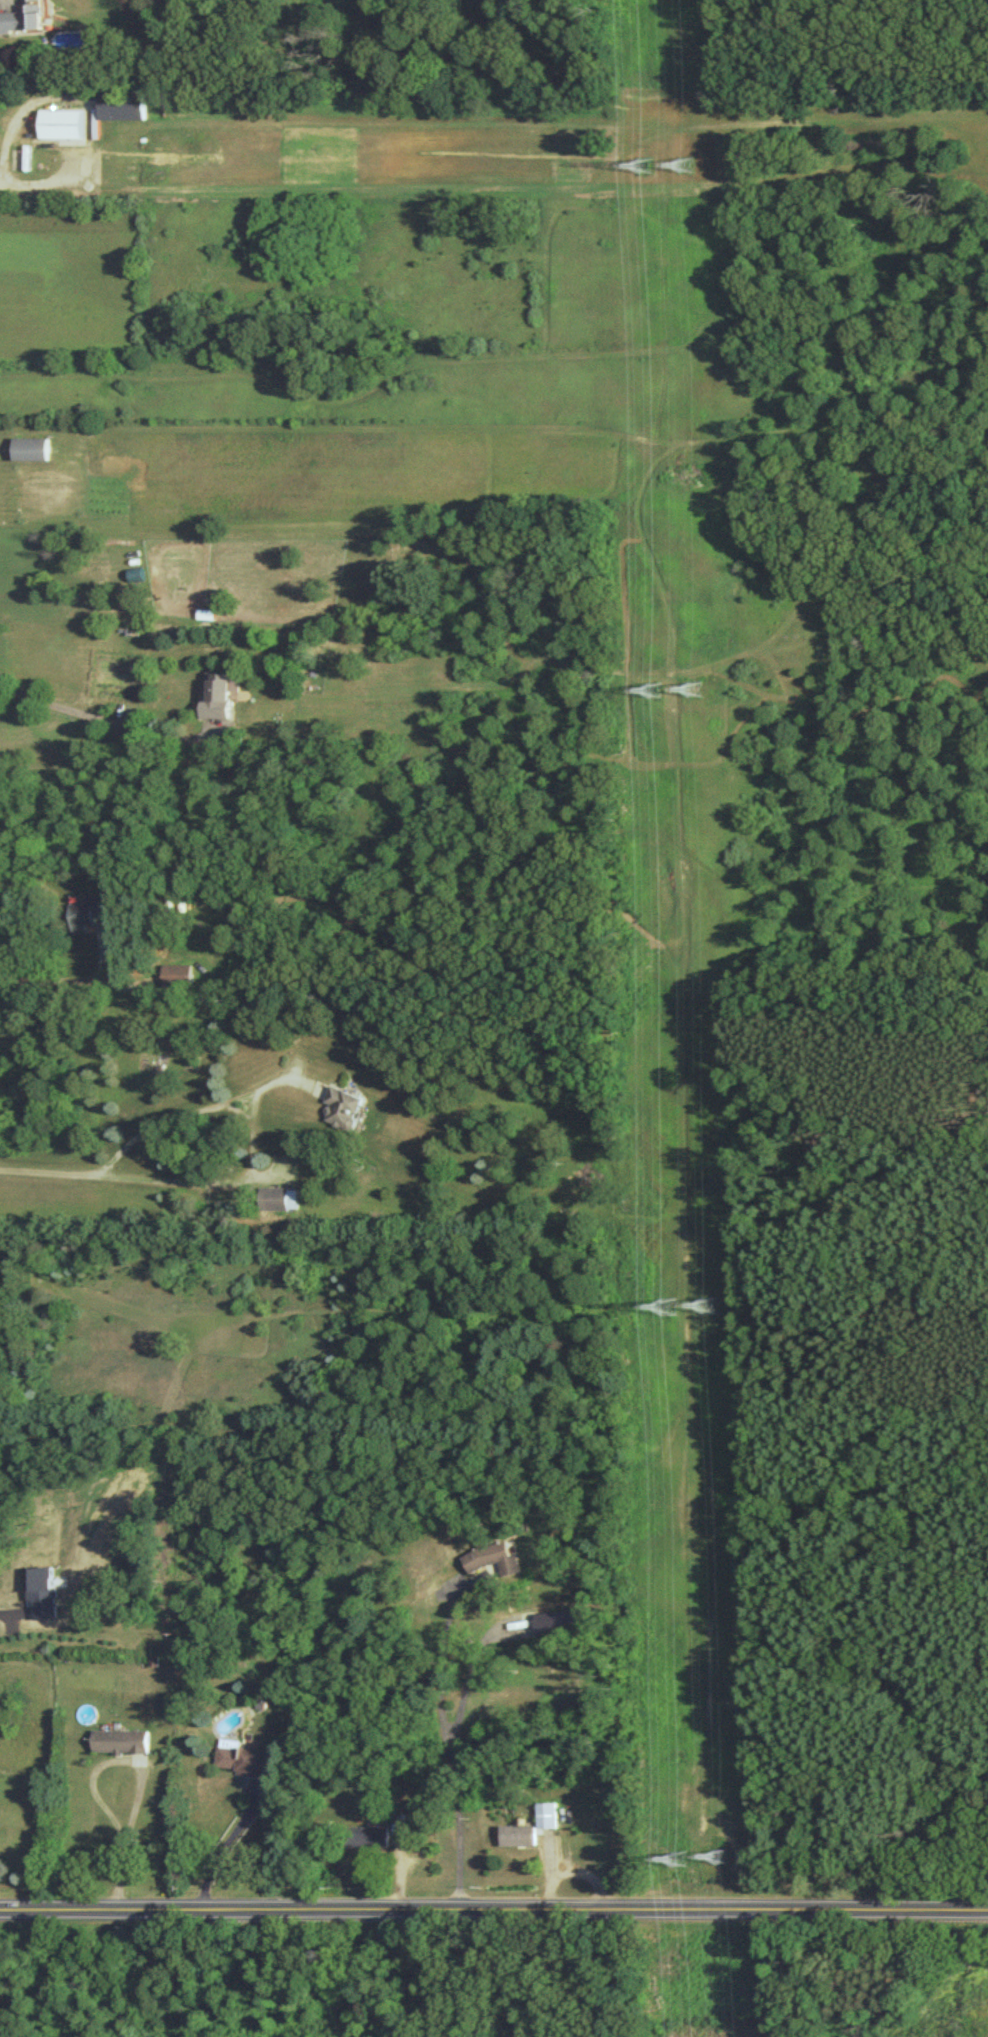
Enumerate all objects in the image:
building: (23, 17)
road: (84, 102)
building: (124, 105)
building: (62, 123)
power tower: (688, 167)
power tower: (645, 168)
road: (1, 186)
building: (33, 447)
power tower: (660, 690)
power tower: (701, 690)
building: (221, 693)
road: (87, 715)
building: (85, 915)
building: (178, 974)
road: (76, 979)
road: (275, 1080)
road: (238, 1097)
building: (345, 1107)
road: (252, 1131)
road: (47, 1170)
building: (280, 1198)
power tower: (671, 1307)
power tower: (714, 1307)
building: (499, 1556)
building: (558, 1621)
road: (466, 1685)
building: (121, 1740)
road: (446, 1747)
building: (548, 1814)
building: (519, 1834)
building: (370, 1835)
road: (221, 1848)
road: (118, 1853)
power tower: (727, 1858)
power tower: (684, 1860)
road: (493, 1904)

